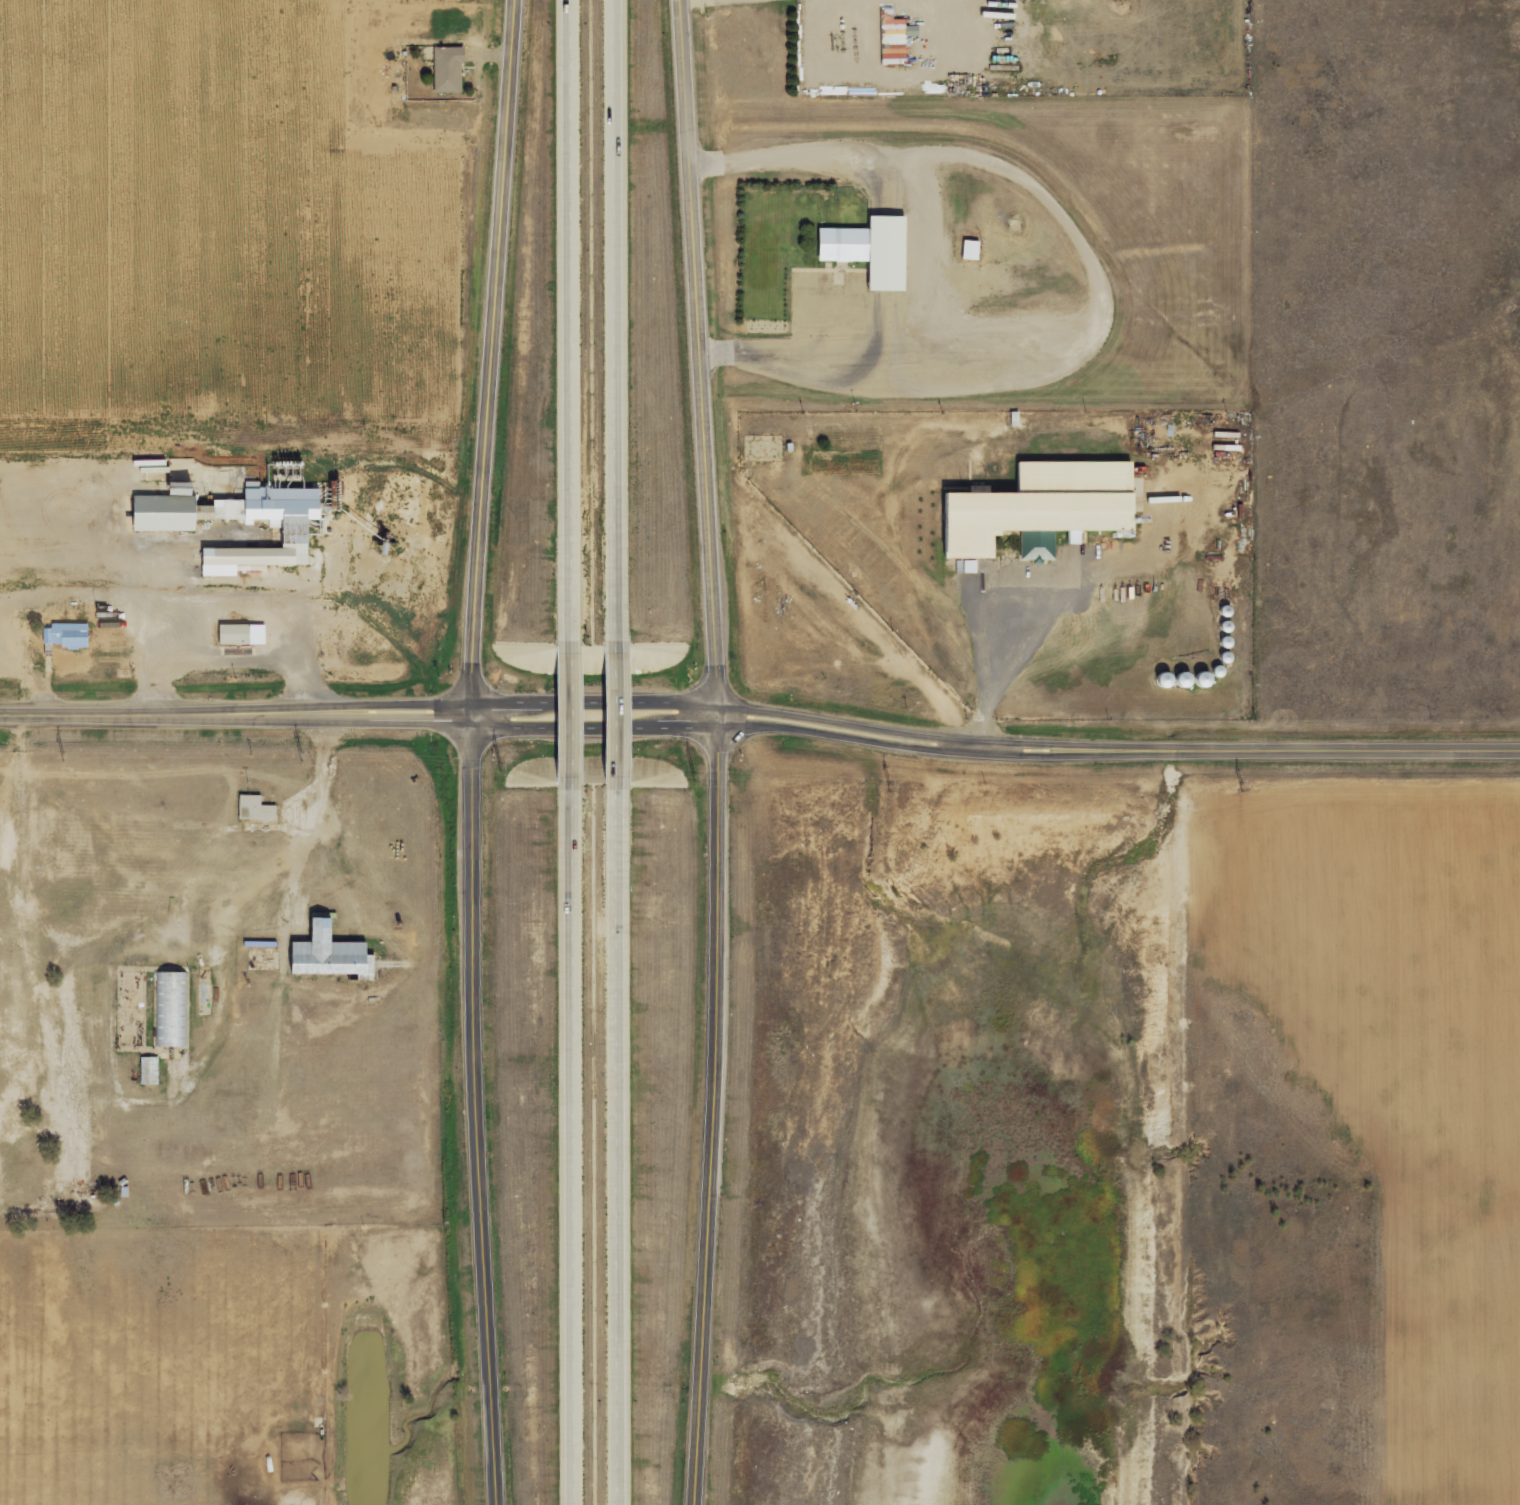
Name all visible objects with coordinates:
building: (892, 36)
building: (444, 70)
building: (967, 250)
building: (865, 251)
road: (1096, 277)
road: (625, 333)
road: (578, 335)
building: (1034, 506)
building: (237, 510)
building: (247, 559)
building: (967, 567)
building: (236, 634)
building: (67, 635)
road: (995, 675)
road: (761, 718)
road: (628, 719)
road: (585, 720)
road: (478, 752)
road: (719, 752)
power tower: (63, 756)
power tower: (300, 758)
power tower: (502, 768)
power tower: (694, 779)
power tower: (890, 786)
power tower: (1240, 786)
building: (257, 809)
building: (335, 953)
building: (171, 1010)
road: (590, 1137)
road: (631, 1138)

